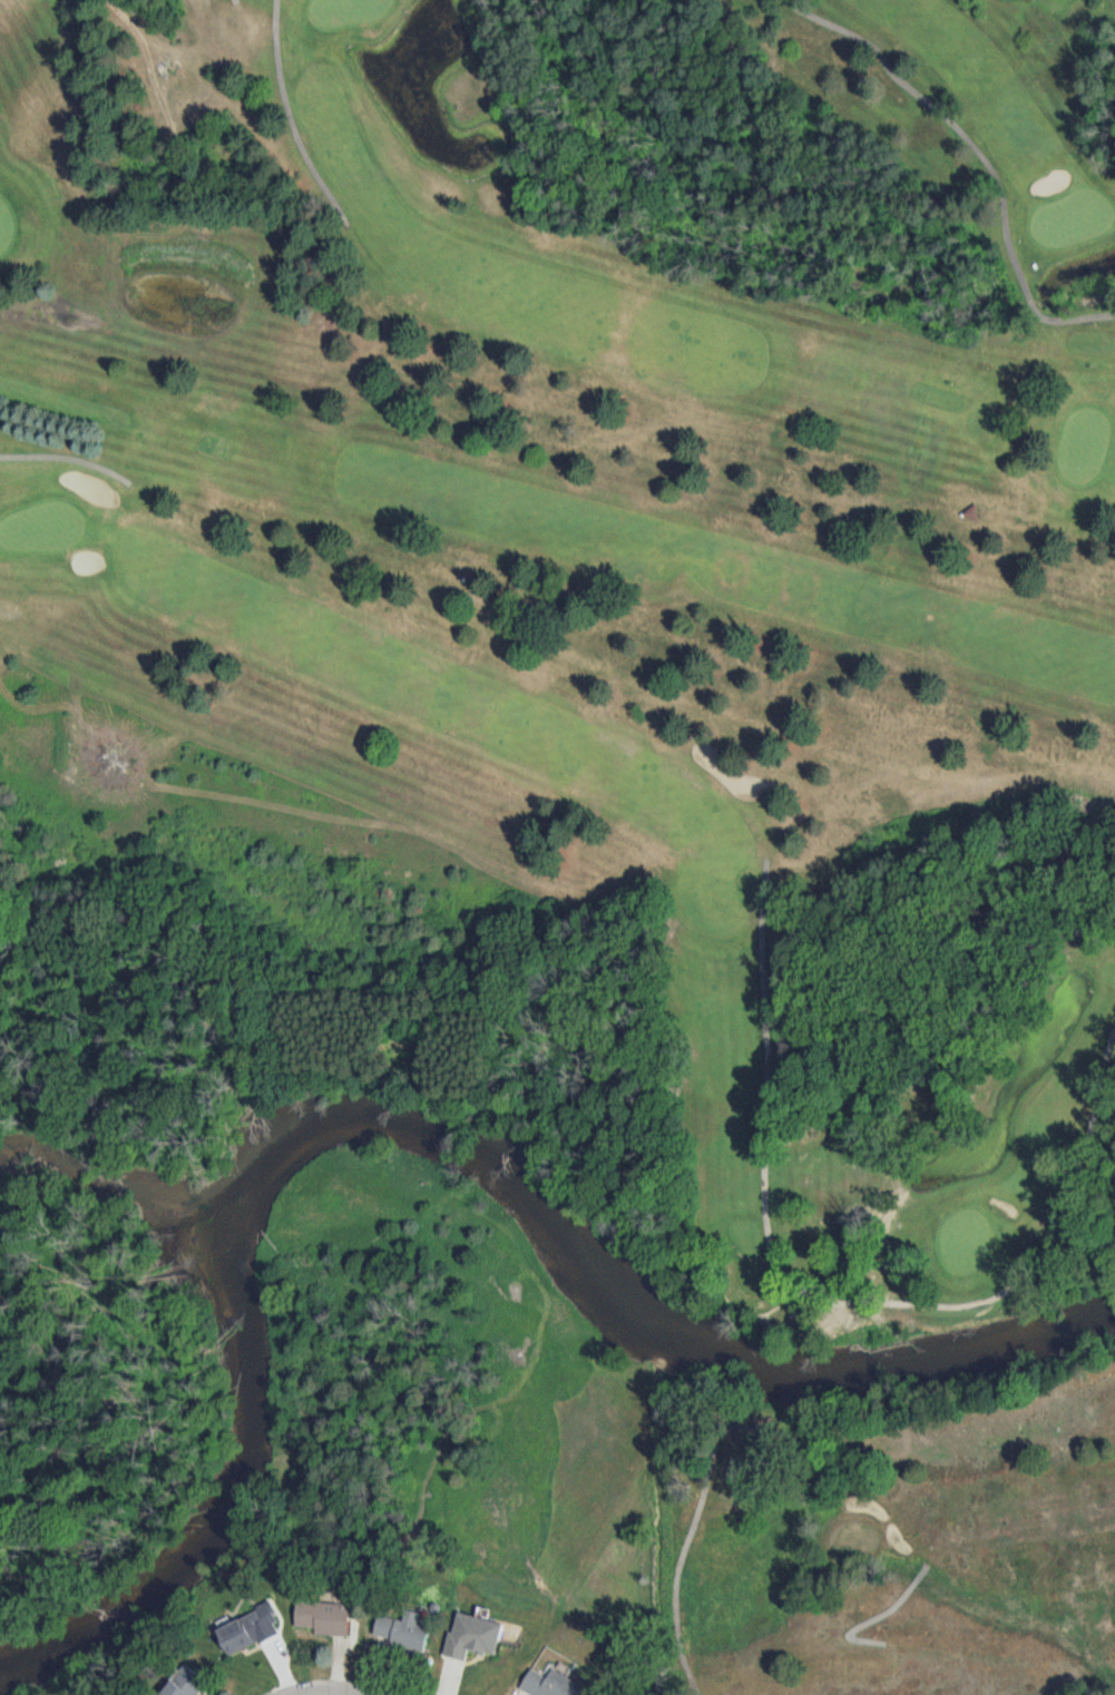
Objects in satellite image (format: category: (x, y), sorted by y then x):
park: (674, 665)
river: (409, 1121)
road: (69, 1227)
park: (84, 1354)
road: (120, 1438)
building: (325, 1618)
building: (407, 1633)
building: (186, 1685)
building: (554, 1685)
road: (336, 1691)

